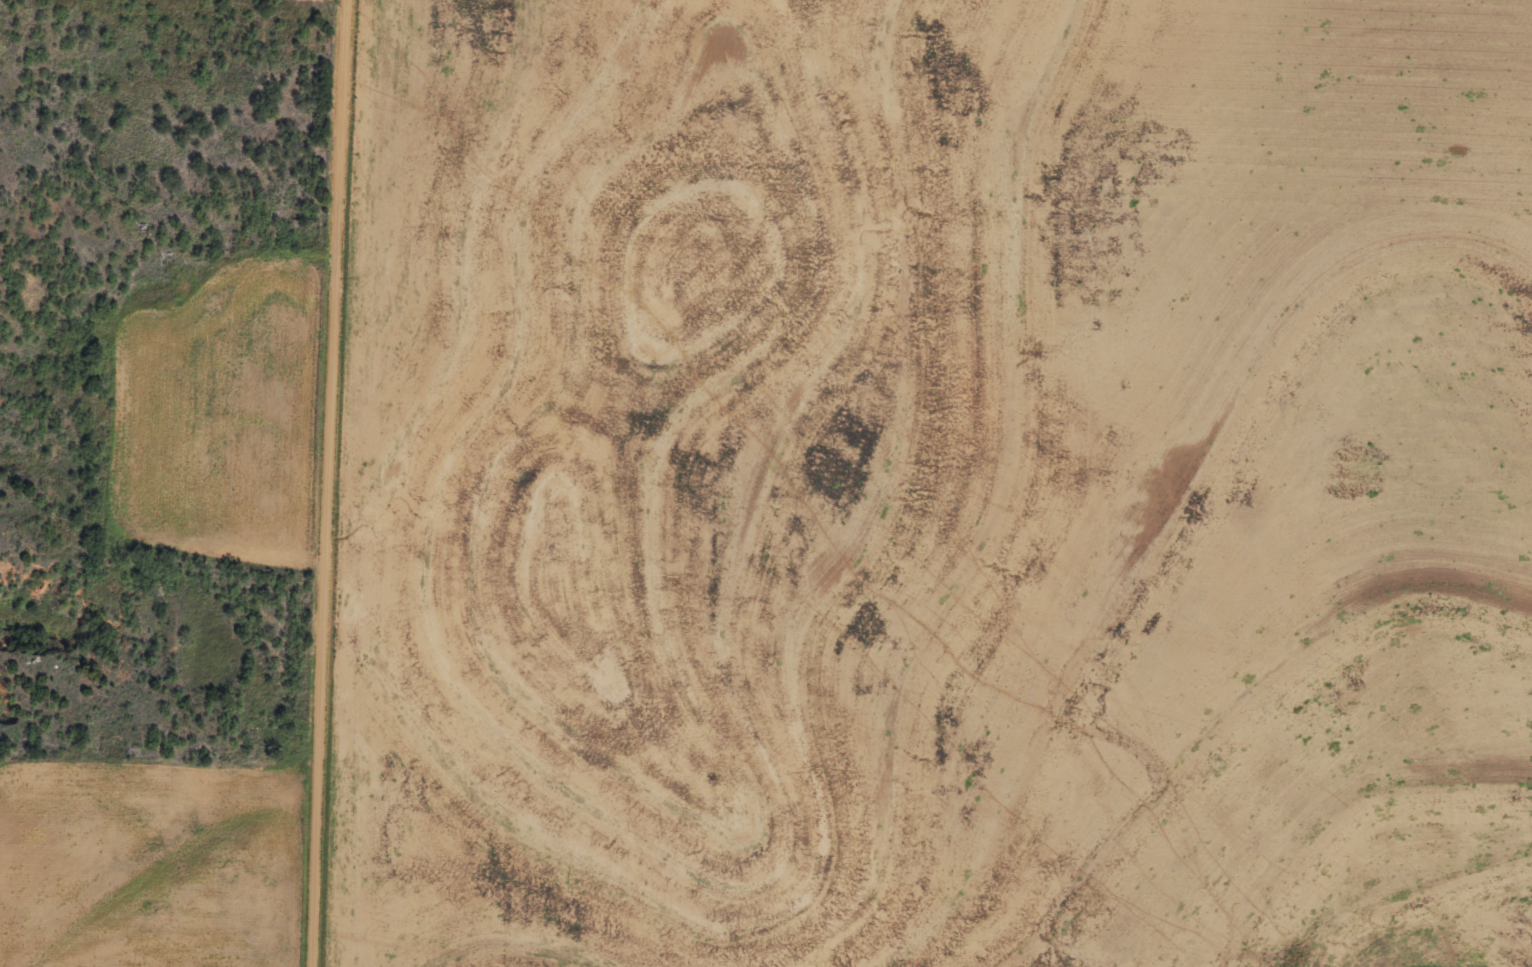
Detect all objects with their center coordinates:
road: (330, 483)

